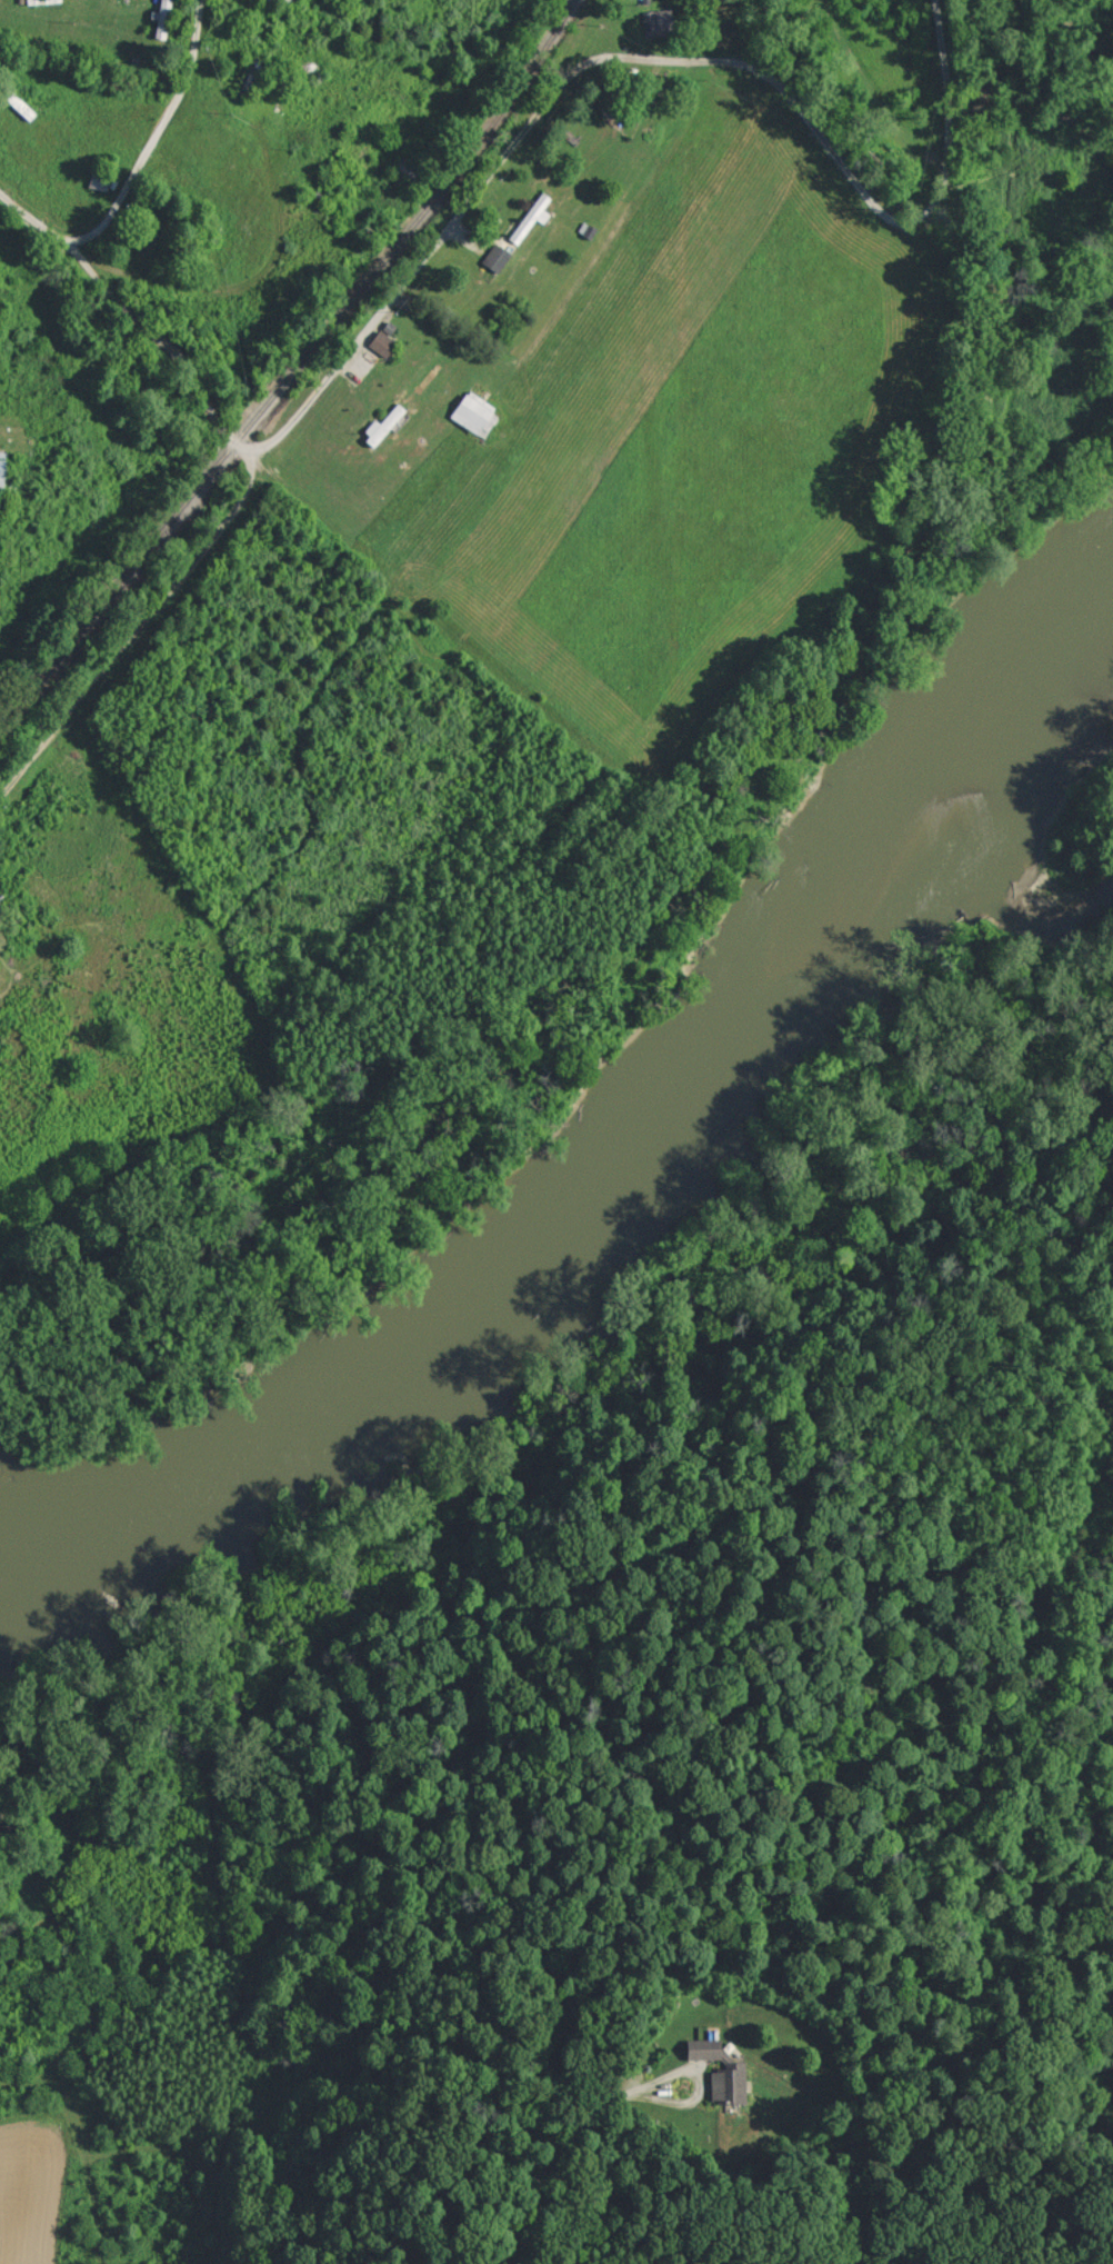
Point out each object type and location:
building: (161, 19)
road: (159, 136)
road: (500, 159)
building: (531, 216)
building: (495, 257)
building: (381, 342)
railway: (294, 369)
building: (473, 412)
building: (382, 423)
building: (2, 469)
river: (642, 1164)
road: (560, 2138)

